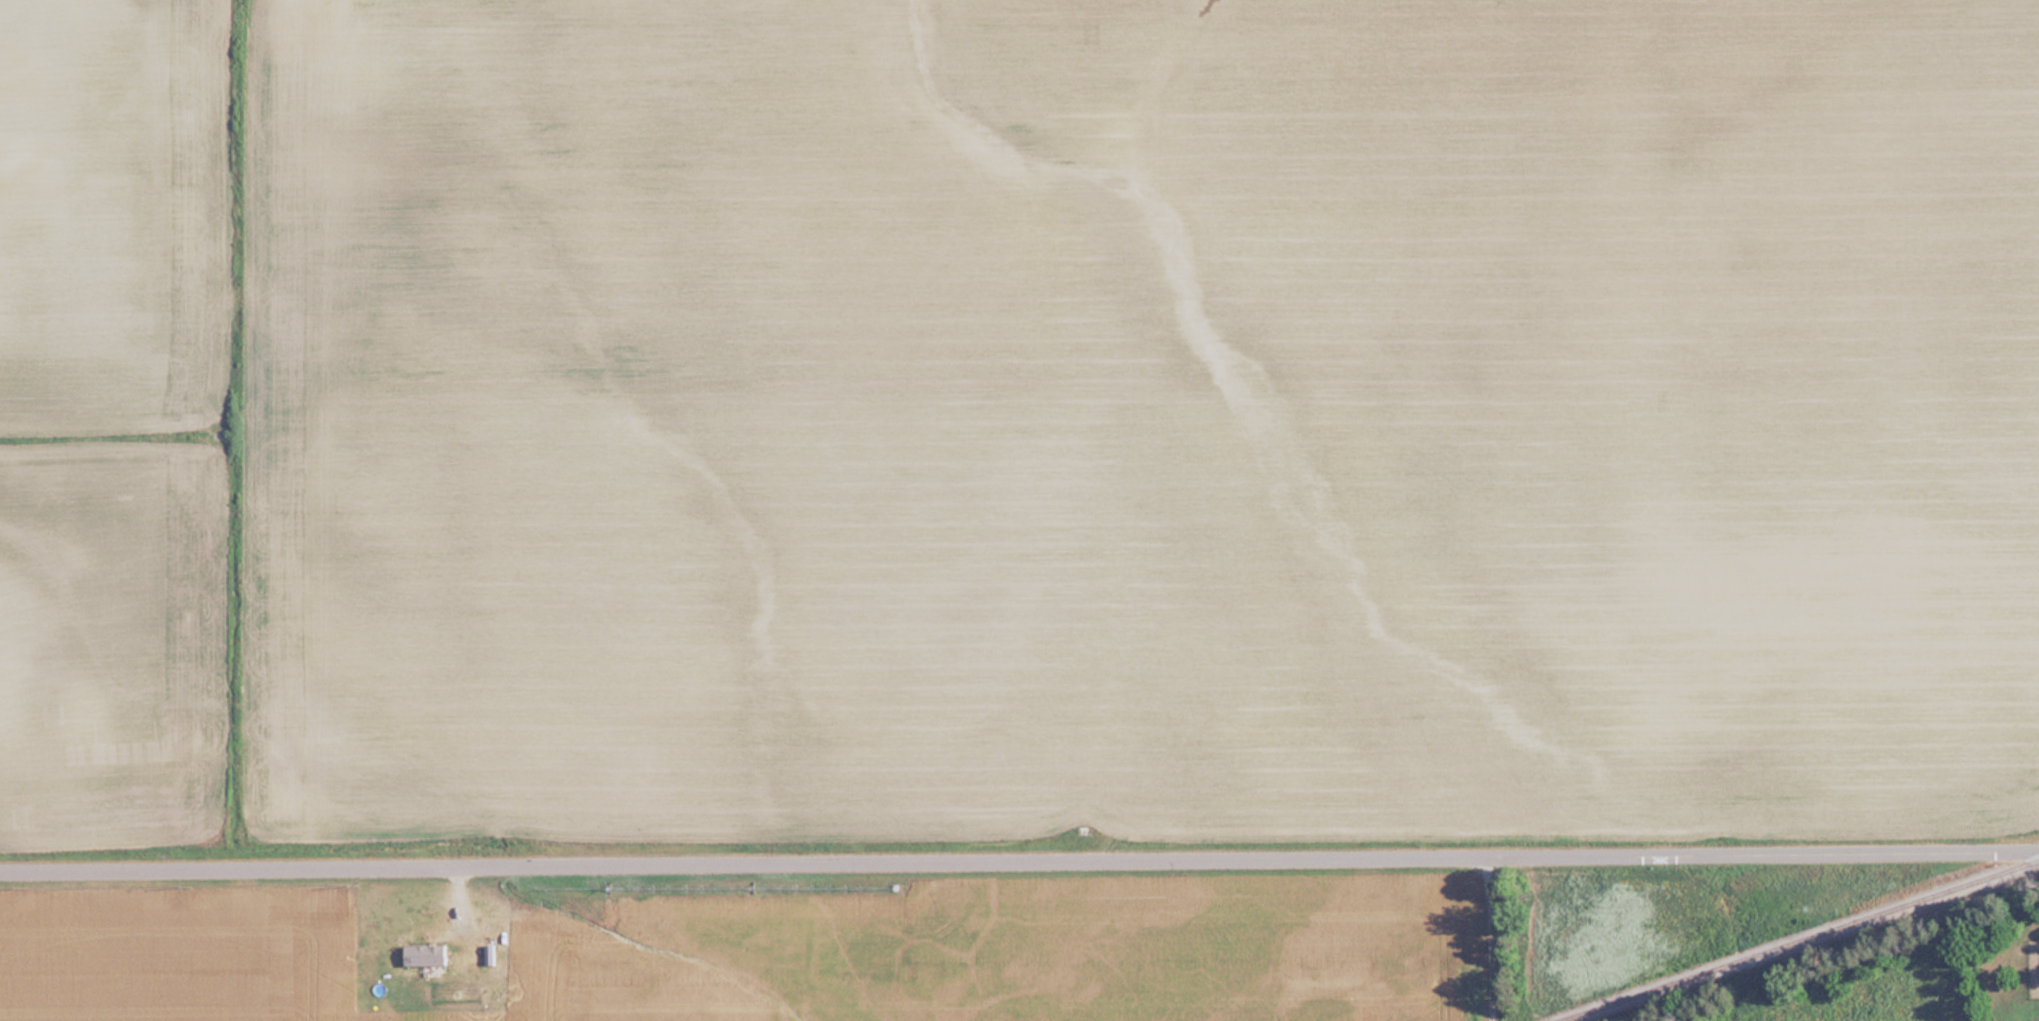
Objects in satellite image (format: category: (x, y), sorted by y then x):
road: (1019, 865)
railway: (1806, 940)

